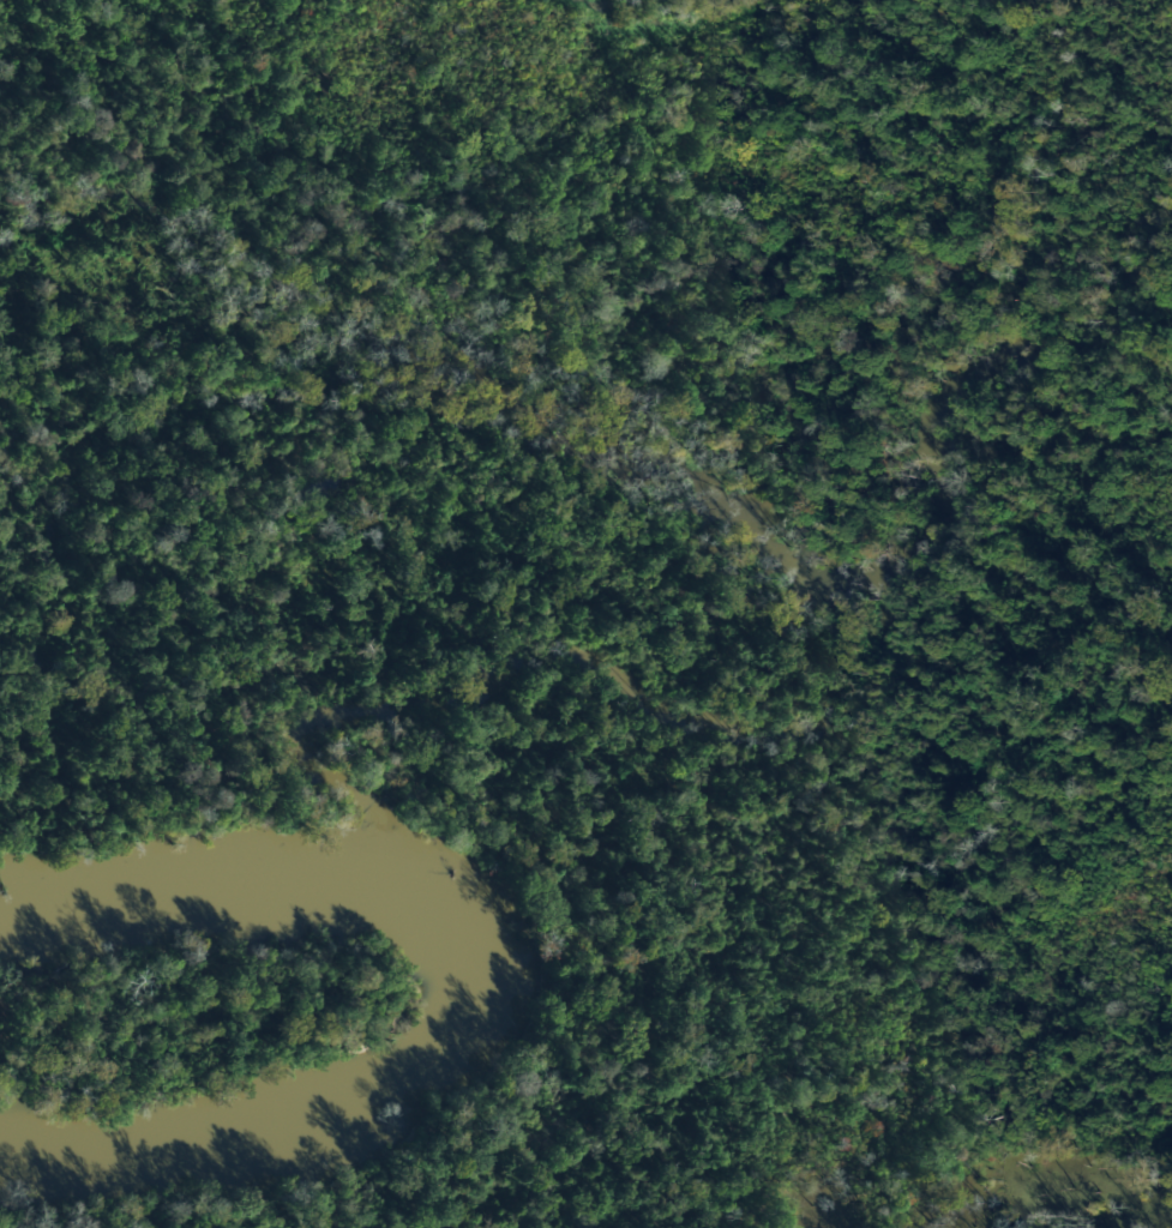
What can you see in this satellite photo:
river: (468, 975)

